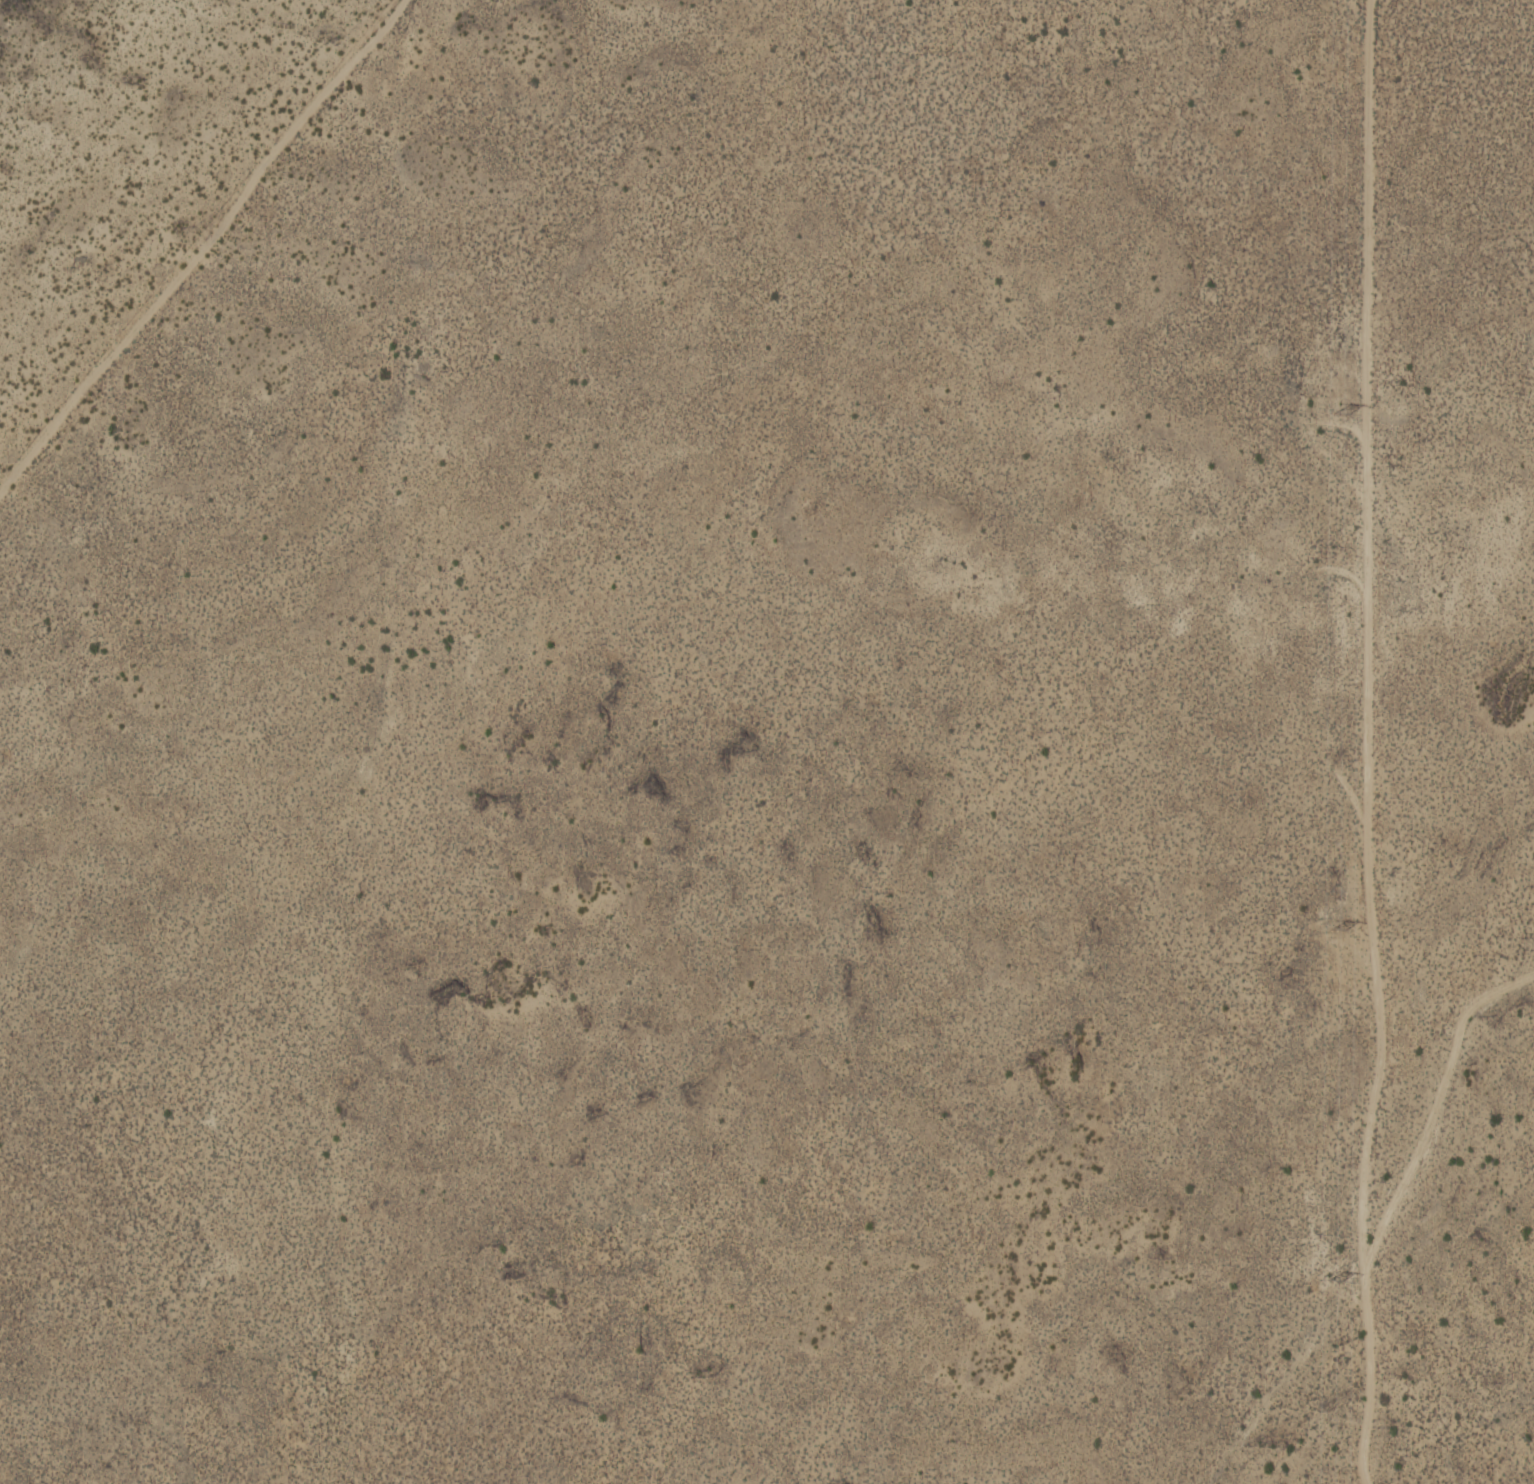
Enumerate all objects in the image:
power tower: (1345, 415)
power tower: (1348, 930)
road: (1401, 1203)
power tower: (1352, 1283)
road: (1323, 1307)

